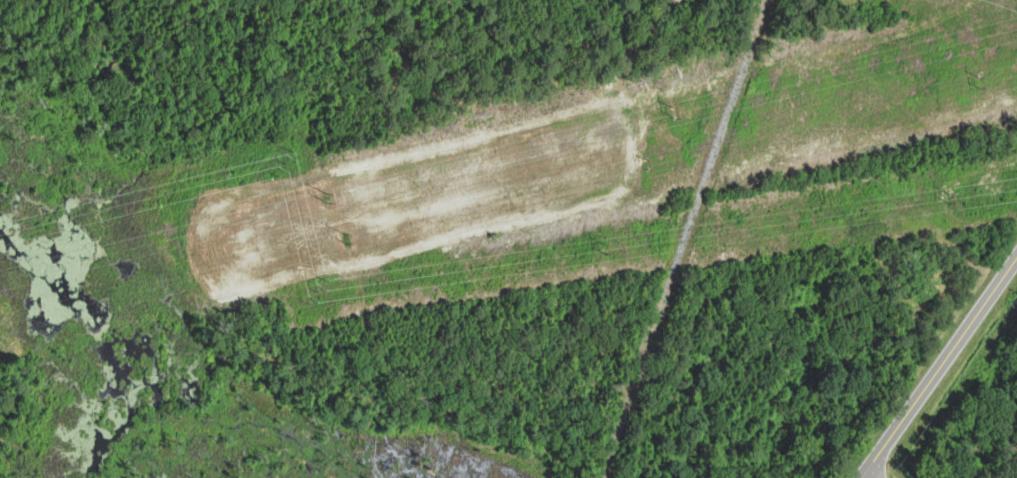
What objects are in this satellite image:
power tower: (979, 77)
power tower: (671, 108)
power tower: (649, 162)
power tower: (287, 165)
power tower: (950, 196)
power tower: (306, 202)
railway: (682, 238)
power tower: (346, 239)
power tower: (605, 248)
building: (915, 255)
power tower: (317, 289)
road: (938, 367)
road: (866, 475)

